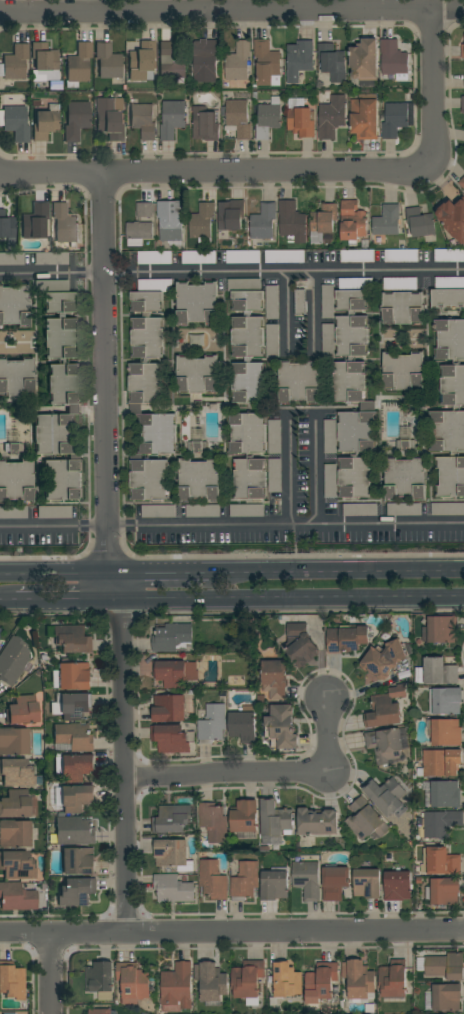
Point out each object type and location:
road: (232, 11)
building: (463, 51)
building: (44, 57)
building: (393, 58)
building: (299, 59)
building: (365, 60)
building: (108, 61)
building: (142, 61)
building: (206, 61)
building: (15, 62)
building: (238, 62)
building: (332, 62)
building: (170, 63)
building: (267, 64)
building: (79, 65)
road: (432, 89)
building: (463, 103)
building: (239, 117)
building: (331, 117)
building: (365, 117)
building: (268, 118)
building: (300, 118)
building: (108, 119)
building: (172, 119)
building: (396, 119)
building: (76, 120)
building: (143, 120)
building: (16, 123)
building: (45, 124)
building: (205, 124)
road: (215, 174)
building: (462, 183)
road: (335, 188)
building: (144, 210)
building: (457, 214)
building: (230, 216)
building: (387, 221)
building: (35, 222)
building: (171, 222)
building: (263, 222)
building: (292, 222)
building: (352, 222)
road: (102, 223)
building: (202, 223)
building: (322, 223)
building: (65, 224)
building: (421, 224)
building: (7, 230)
building: (139, 231)
building: (449, 255)
building: (284, 256)
building: (357, 256)
building: (401, 256)
building: (199, 257)
building: (243, 257)
building: (51, 258)
building: (154, 258)
building: (11, 259)
road: (84, 268)
road: (119, 269)
road: (300, 270)
road: (120, 271)
road: (85, 272)
road: (33, 273)
building: (400, 284)
building: (448, 293)
building: (327, 301)
building: (272, 302)
building: (300, 302)
building: (197, 303)
building: (15, 305)
building: (403, 308)
building: (328, 340)
building: (247, 341)
building: (272, 341)
road: (300, 356)
building: (403, 371)
building: (197, 375)
building: (16, 377)
building: (299, 381)
building: (353, 388)
building: (60, 393)
building: (149, 393)
road: (107, 400)
building: (457, 408)
building: (274, 436)
building: (330, 436)
building: (406, 445)
building: (198, 446)
building: (13, 448)
building: (249, 455)
road: (290, 456)
road: (91, 460)
road: (315, 472)
building: (275, 475)
building: (405, 478)
building: (199, 480)
building: (330, 480)
building: (16, 481)
building: (447, 508)
building: (359, 509)
building: (404, 509)
building: (158, 511)
building: (202, 511)
building: (246, 511)
building: (13, 512)
building: (54, 512)
road: (286, 525)
road: (38, 526)
road: (93, 526)
road: (159, 555)
road: (110, 565)
road: (337, 572)
road: (55, 573)
road: (161, 573)
road: (287, 601)
road: (7, 603)
road: (63, 603)
building: (440, 628)
building: (0, 630)
building: (172, 638)
building: (73, 639)
building: (347, 639)
building: (2, 642)
building: (300, 644)
building: (383, 659)
building: (13, 660)
building: (439, 671)
building: (175, 673)
building: (72, 676)
building: (275, 678)
building: (445, 700)
building: (71, 705)
building: (168, 708)
building: (385, 708)
building: (22, 710)
building: (212, 724)
building: (243, 726)
building: (281, 727)
road: (328, 732)
building: (445, 732)
building: (74, 736)
building: (170, 739)
building: (14, 741)
building: (385, 745)
building: (441, 762)
building: (76, 767)
road: (123, 767)
building: (17, 773)
road: (226, 773)
building: (445, 794)
building: (386, 796)
building: (76, 798)
building: (15, 804)
building: (244, 816)
building: (174, 819)
building: (366, 820)
building: (275, 821)
building: (214, 822)
building: (317, 822)
building: (438, 823)
building: (73, 831)
building: (14, 834)
building: (173, 854)
building: (78, 861)
building: (443, 862)
building: (17, 865)
building: (307, 879)
building: (213, 880)
building: (245, 881)
building: (334, 882)
building: (368, 883)
building: (275, 884)
building: (397, 886)
building: (173, 888)
building: (444, 891)
building: (77, 892)
building: (17, 897)
road: (231, 932)
building: (444, 965)
road: (49, 974)
building: (248, 979)
building: (100, 980)
building: (287, 980)
building: (394, 980)
building: (12, 981)
building: (133, 981)
building: (211, 981)
building: (322, 981)
building: (359, 981)
building: (177, 988)
building: (447, 997)
building: (100, 1011)

